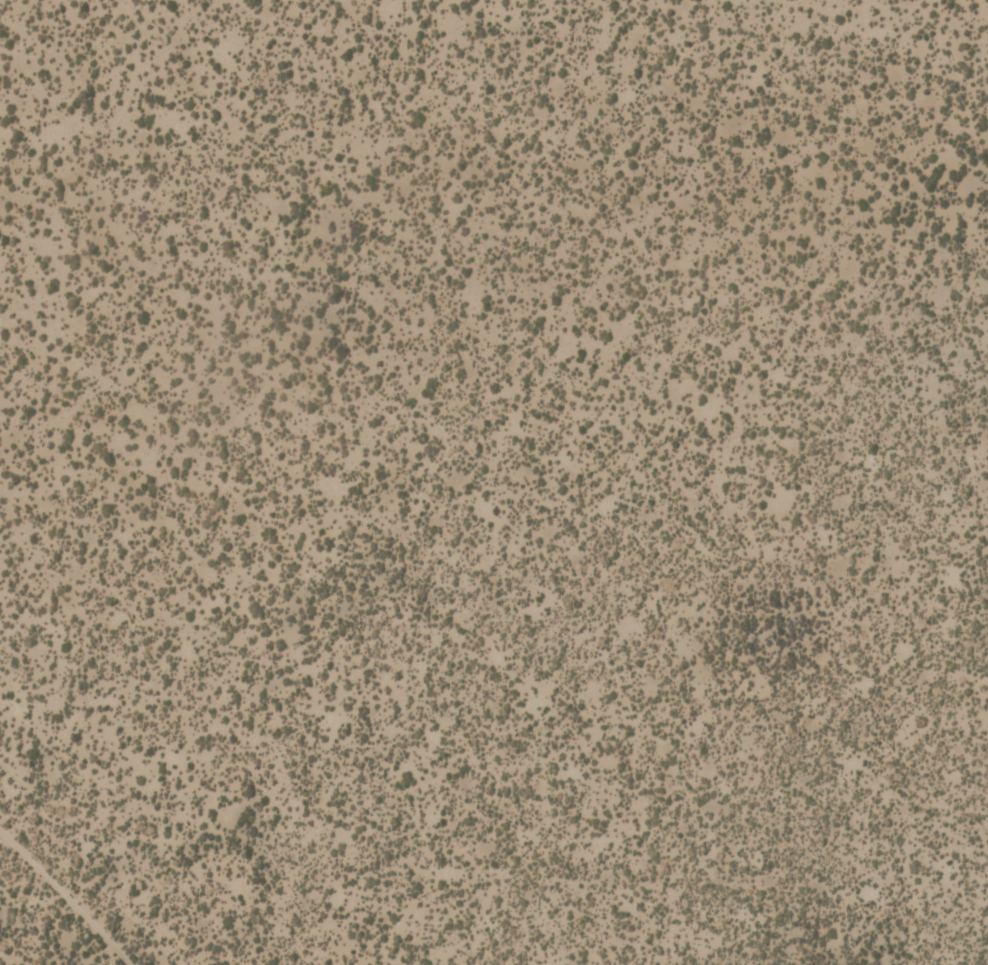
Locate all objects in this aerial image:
road: (65, 895)

